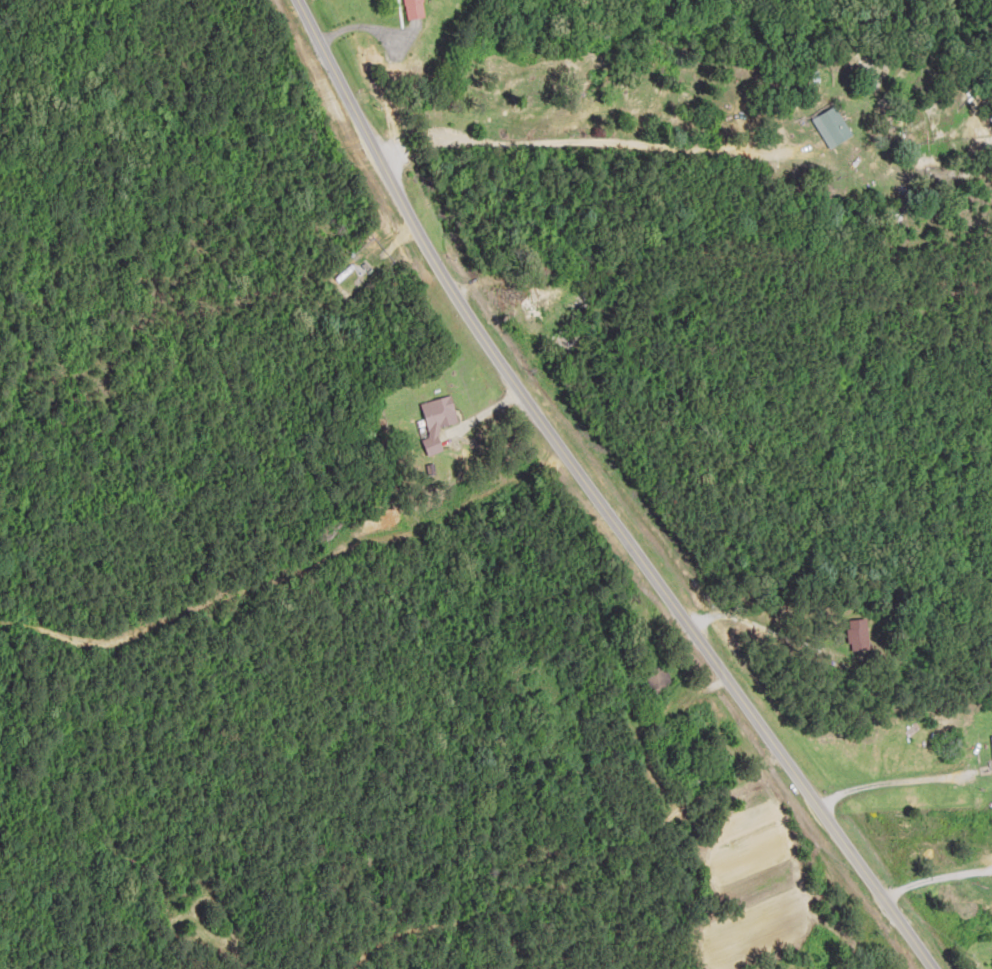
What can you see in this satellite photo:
building: (417, 9)
building: (839, 127)
building: (531, 304)
building: (439, 419)
road: (610, 495)
building: (860, 636)
road: (891, 730)
building: (989, 840)
road: (938, 879)

